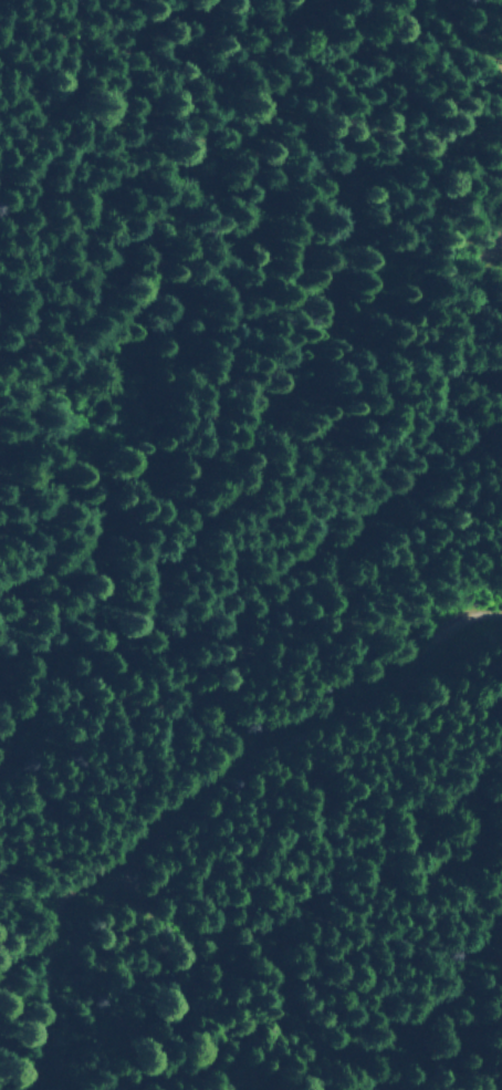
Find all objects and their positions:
road: (227, 796)

